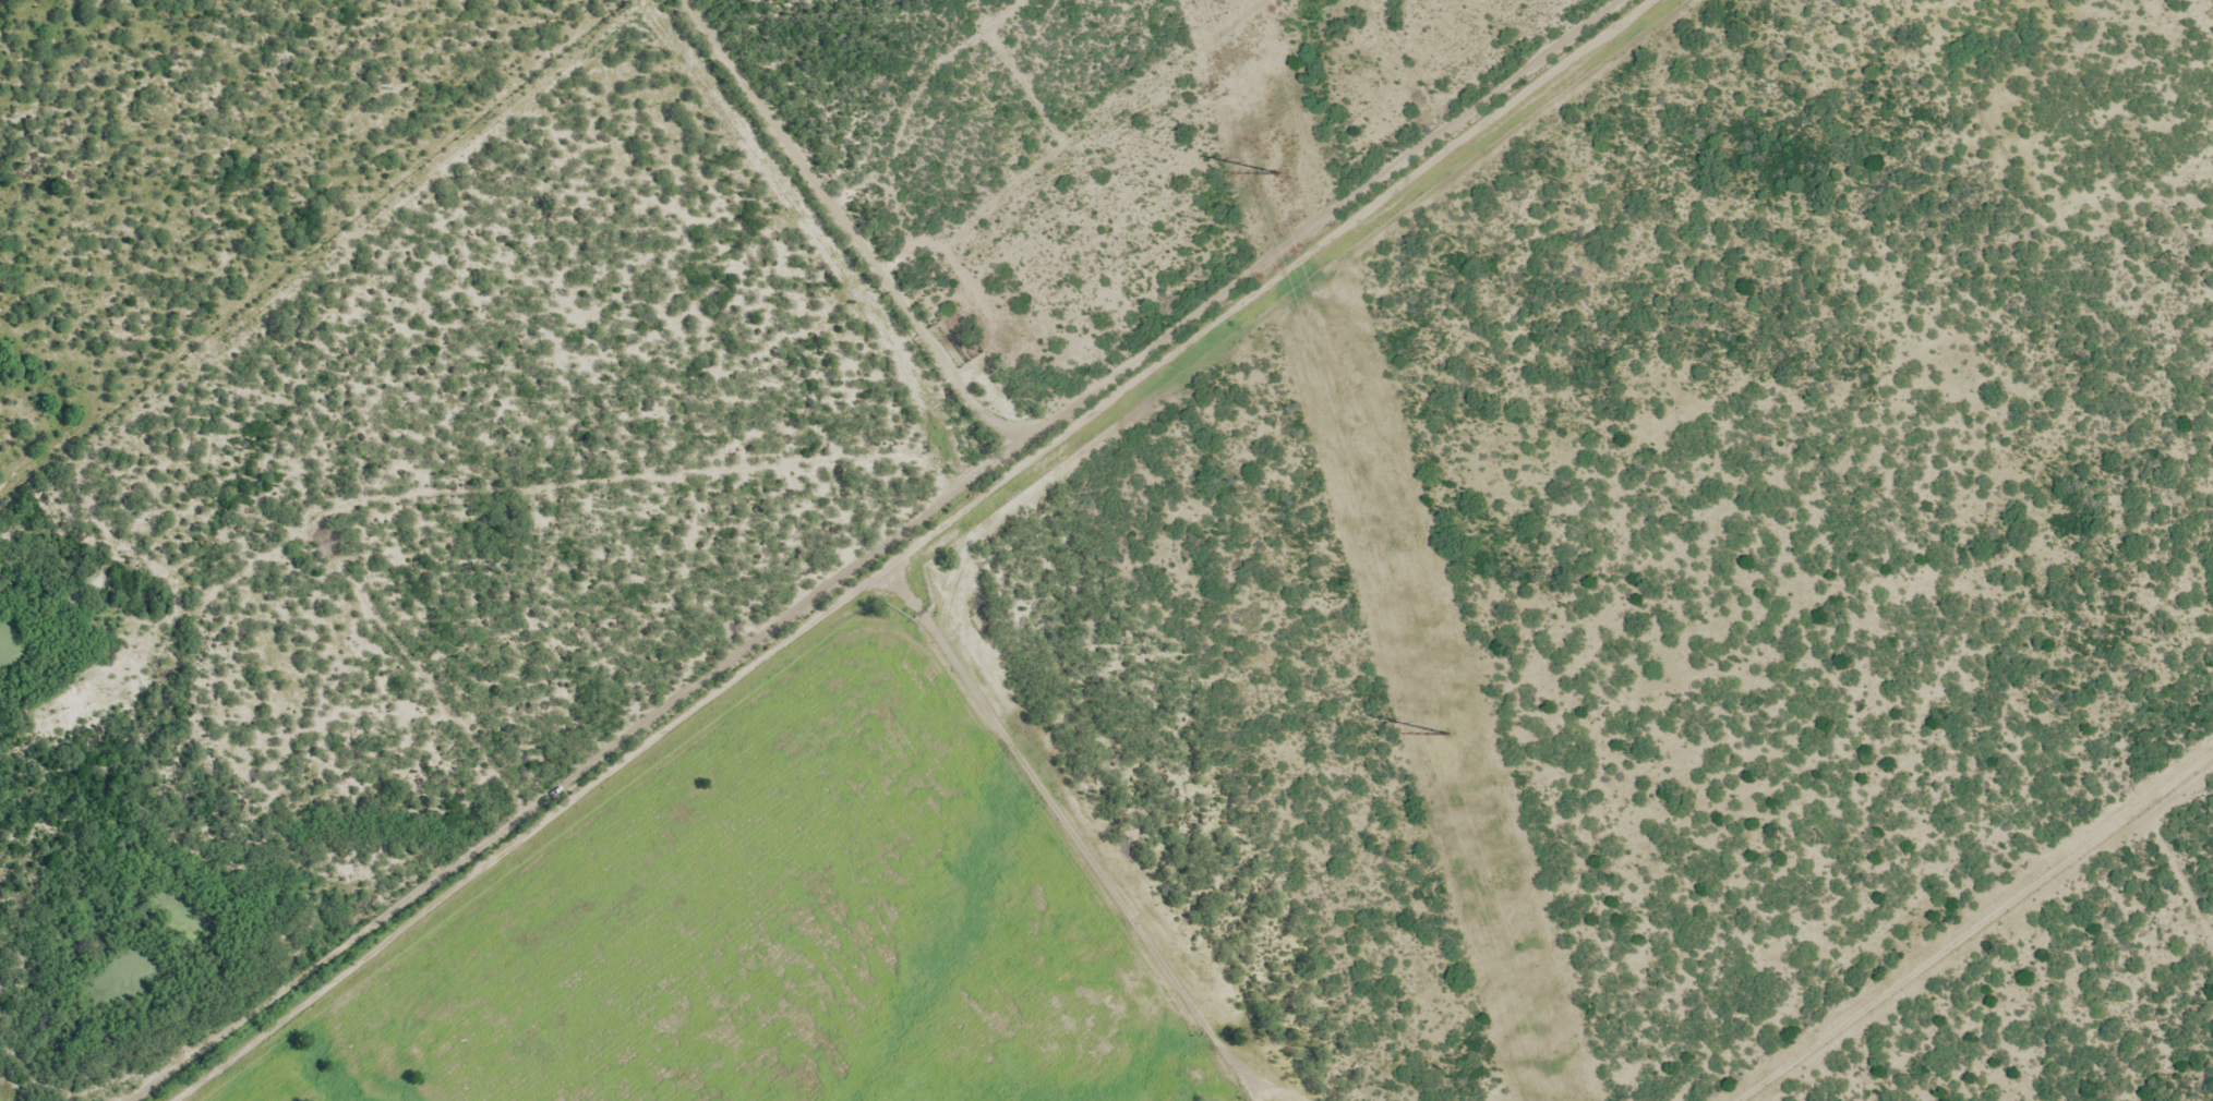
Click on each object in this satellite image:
power tower: (1279, 174)
road: (900, 548)
power tower: (1447, 734)

